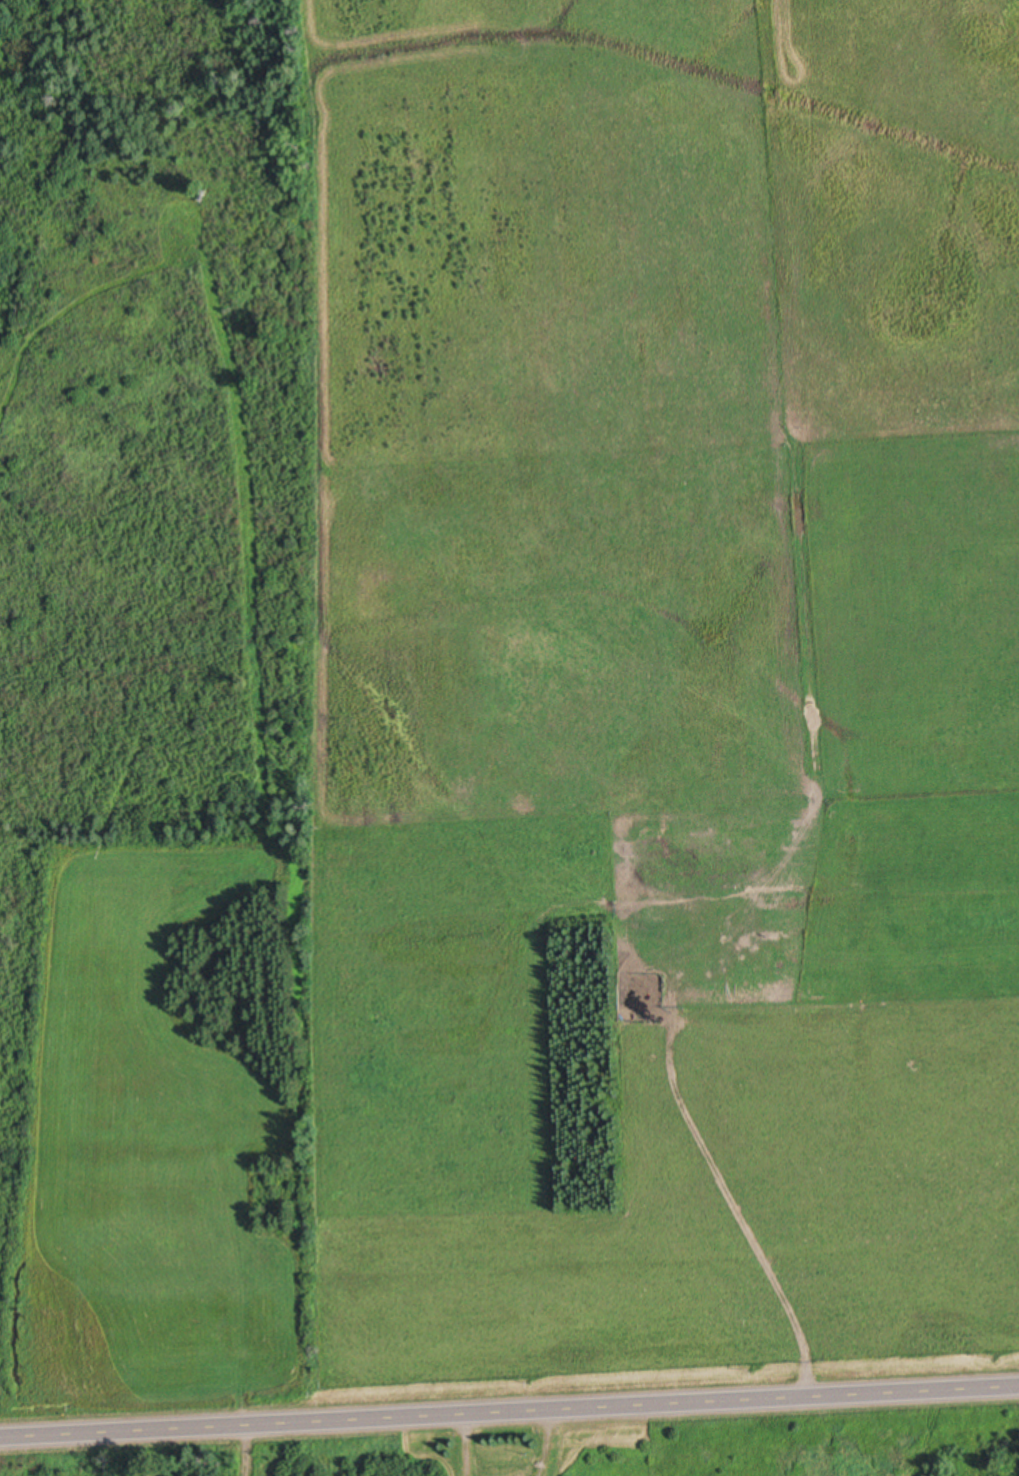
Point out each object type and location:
road: (509, 1412)

